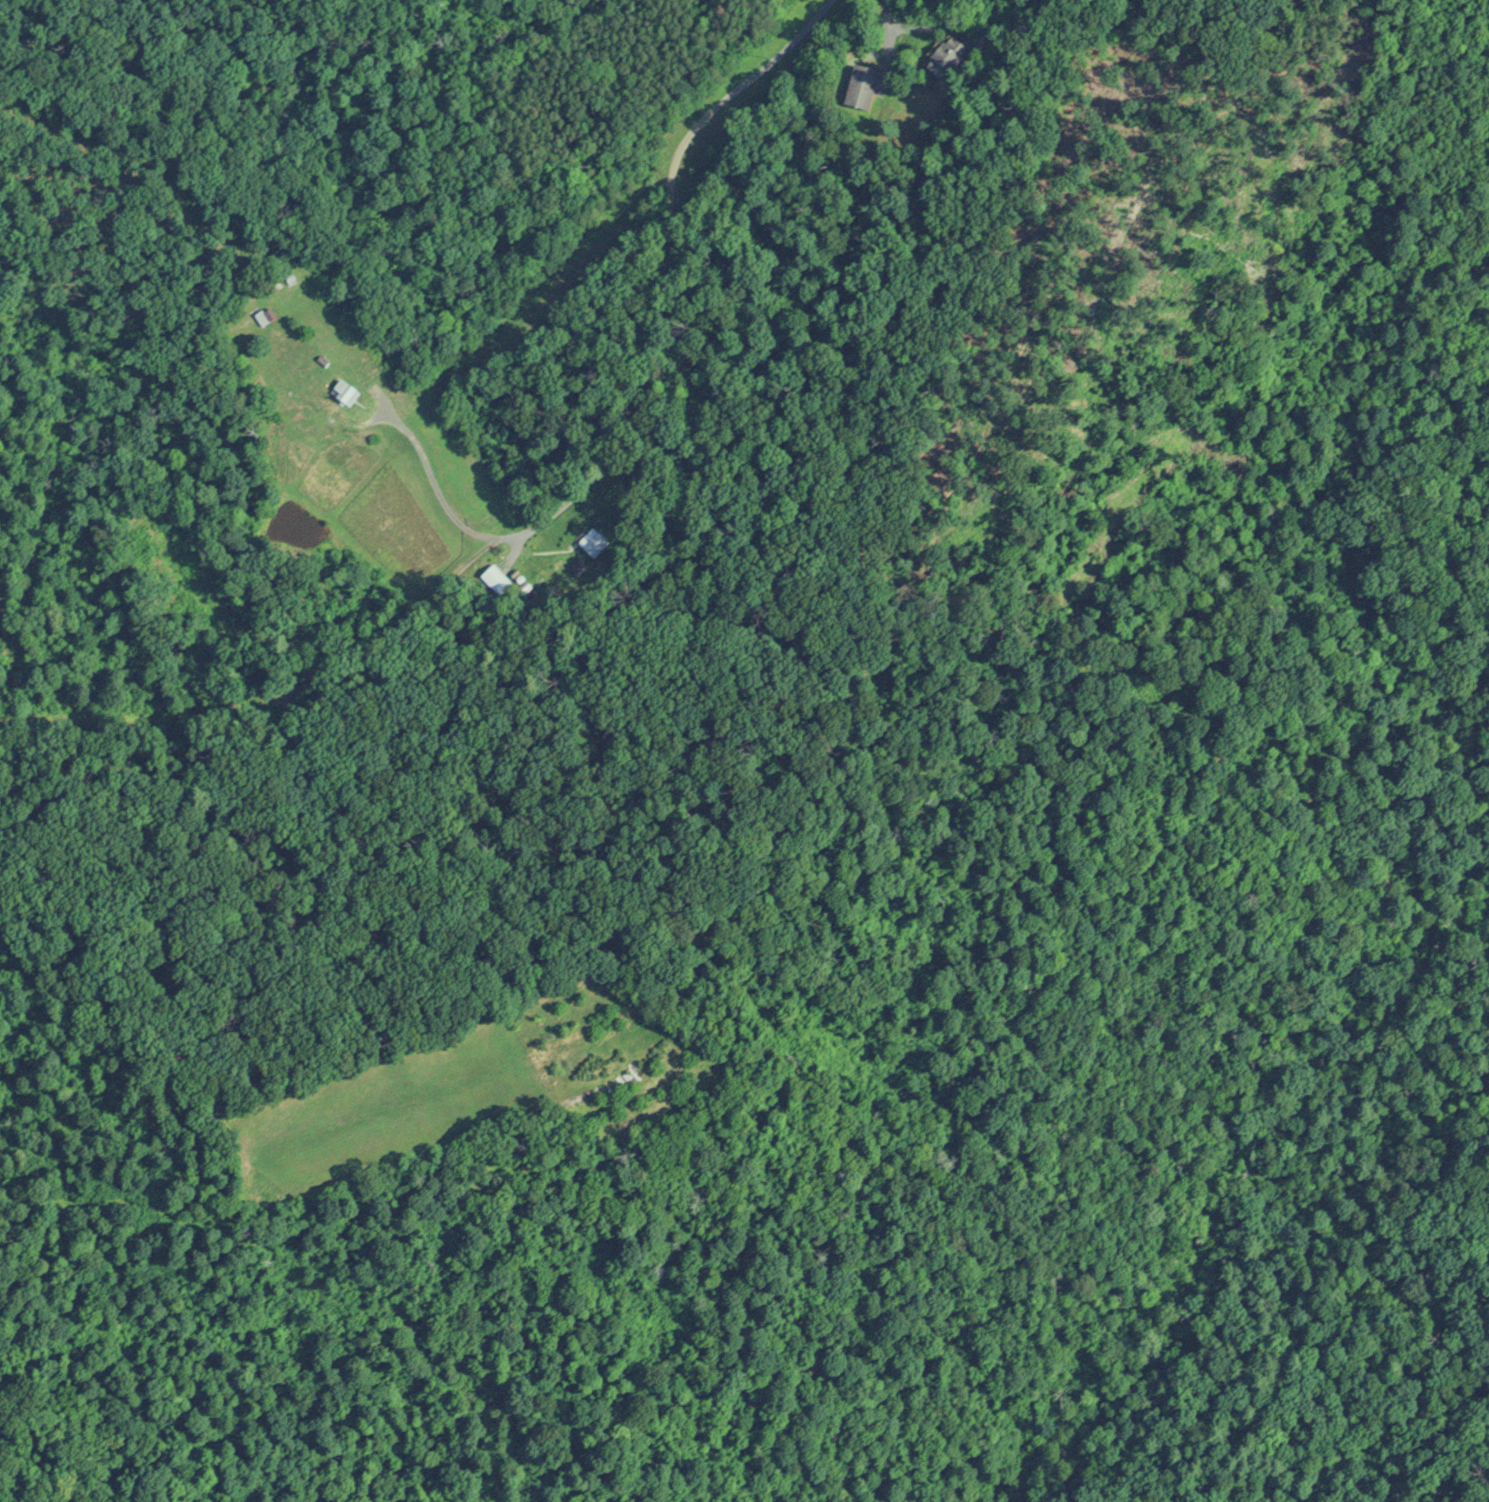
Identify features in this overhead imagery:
road: (884, 20)
building: (946, 57)
building: (861, 87)
building: (264, 316)
road: (648, 365)
building: (344, 392)
building: (593, 542)
building: (496, 579)

